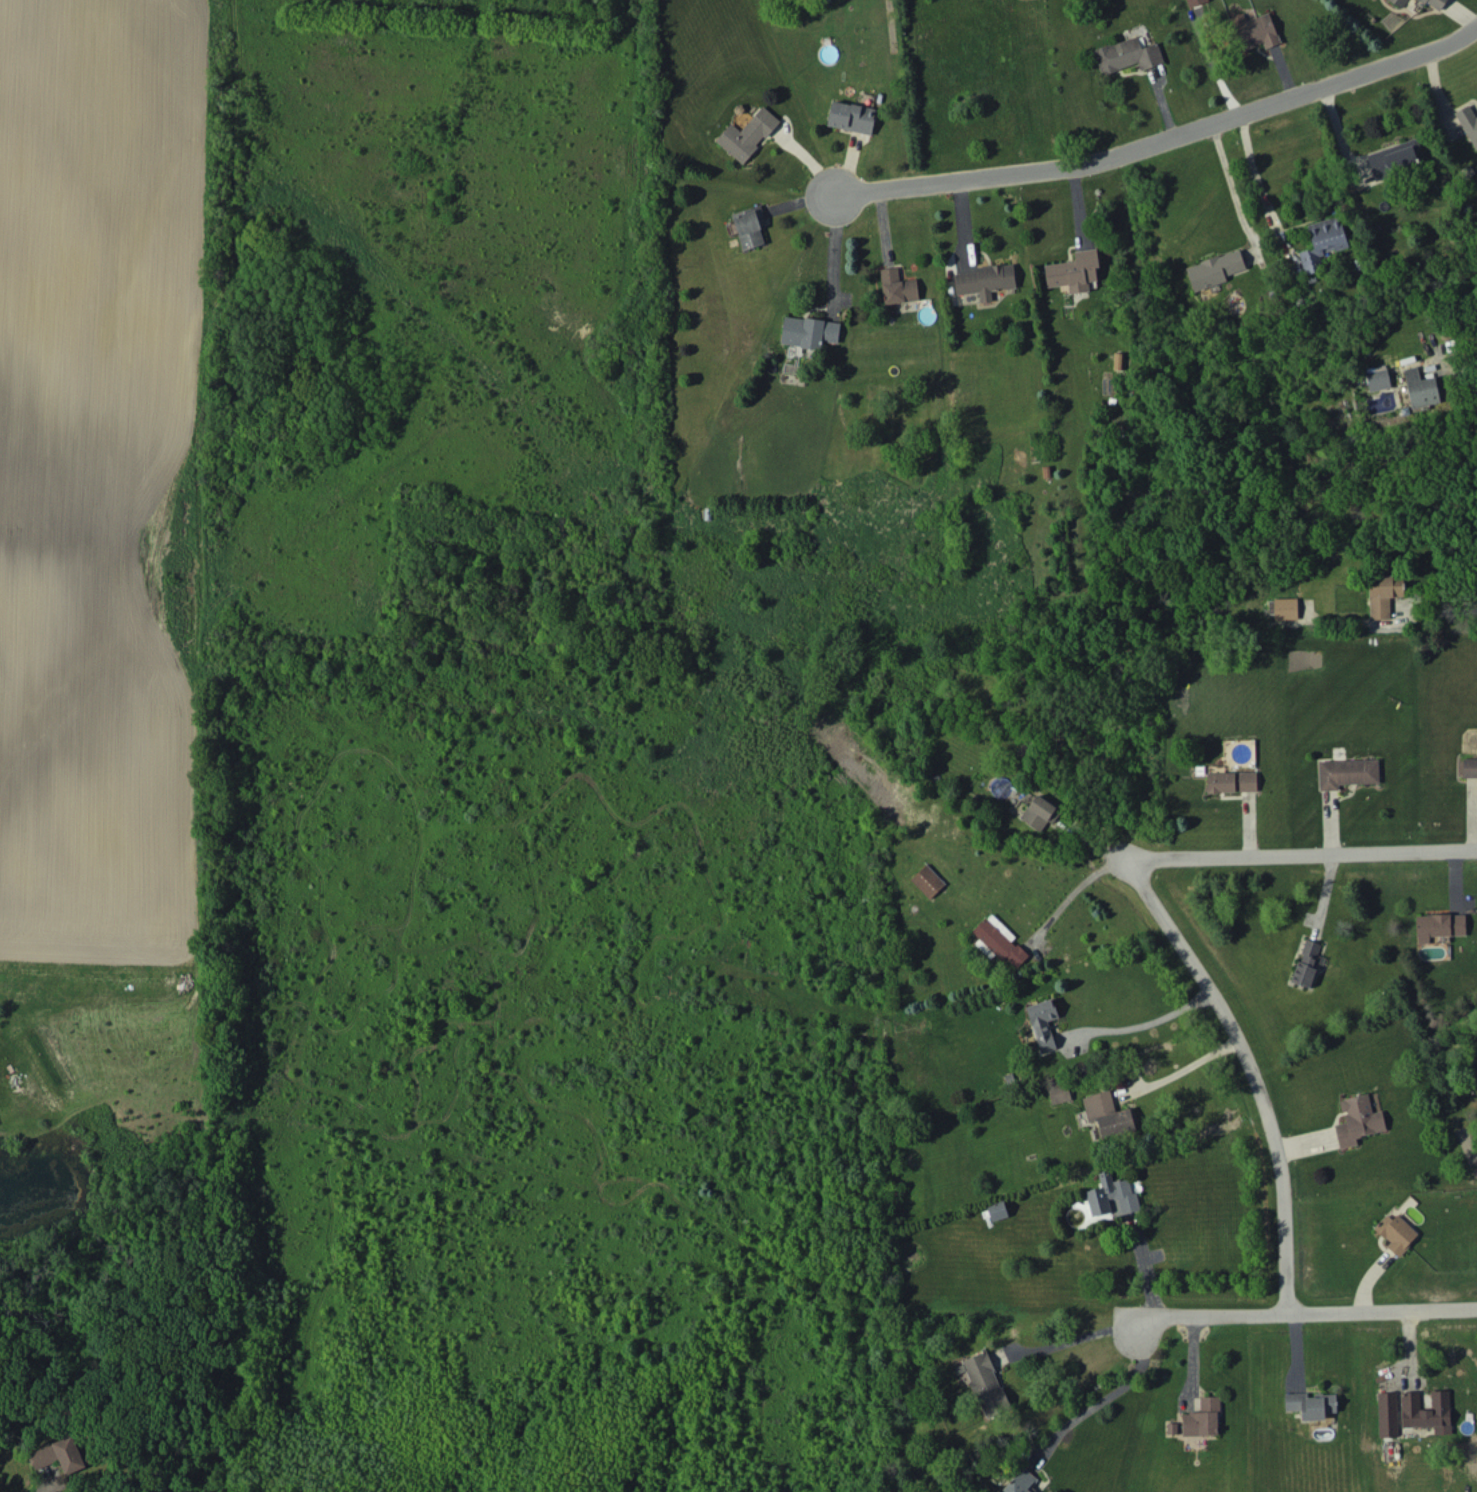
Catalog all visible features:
building: (1194, 2)
building: (1399, 2)
building: (1435, 3)
building: (1254, 30)
building: (1127, 54)
road: (1212, 66)
building: (851, 116)
building: (1469, 122)
building: (747, 134)
road: (1162, 136)
building: (1397, 159)
road: (1251, 173)
road: (1232, 187)
building: (749, 226)
building: (1322, 242)
road: (828, 250)
building: (1214, 269)
building: (1074, 271)
building: (985, 280)
building: (897, 286)
building: (808, 331)
road: (1459, 373)
building: (1377, 377)
building: (1420, 388)
building: (1383, 593)
building: (1285, 608)
road: (1442, 613)
building: (1469, 767)
building: (1347, 772)
building: (1231, 781)
building: (1040, 812)
road: (1300, 852)
building: (928, 880)
road: (1068, 886)
building: (1439, 925)
building: (1000, 940)
building: (1306, 962)
building: (1043, 1023)
road: (1147, 1024)
road: (1180, 1069)
road: (1251, 1072)
building: (1059, 1092)
building: (1107, 1113)
building: (1357, 1120)
building: (1111, 1194)
building: (997, 1210)
building: (1396, 1232)
road: (1141, 1271)
road: (1301, 1322)
road: (1067, 1338)
road: (1191, 1363)
building: (985, 1383)
road: (1106, 1398)
building: (1310, 1404)
building: (1427, 1411)
building: (1387, 1414)
building: (1202, 1418)
building: (61, 1455)
building: (1020, 1482)
road: (38, 1491)

